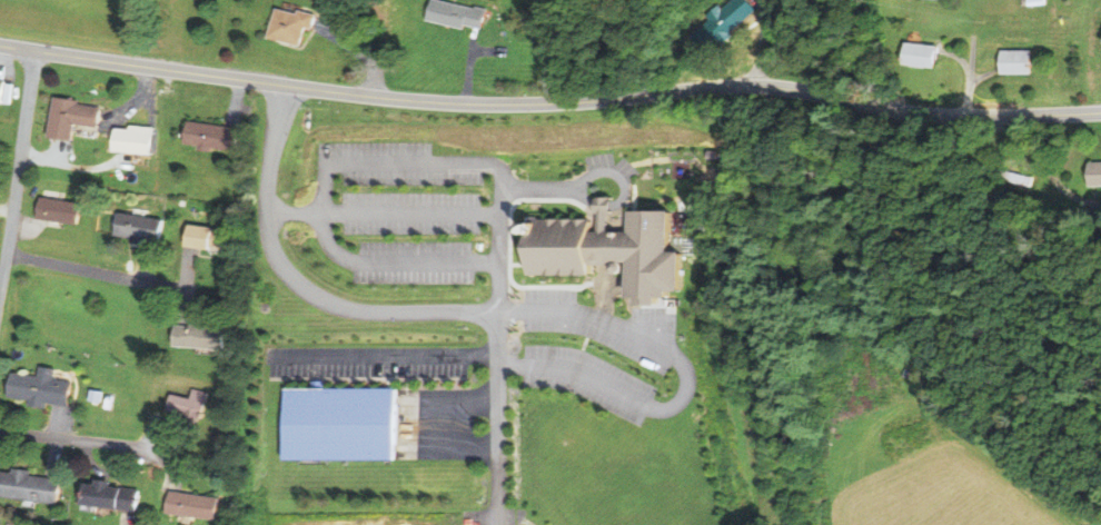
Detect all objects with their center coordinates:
building: (1034, 2)
building: (456, 13)
building: (724, 22)
building: (292, 26)
building: (1098, 38)
road: (764, 42)
road: (368, 47)
building: (919, 55)
building: (1014, 60)
road: (469, 70)
building: (2, 89)
road: (550, 103)
building: (73, 117)
building: (216, 136)
building: (136, 140)
road: (435, 165)
road: (19, 174)
building: (1091, 175)
building: (60, 209)
road: (409, 214)
park: (1, 226)
building: (141, 227)
building: (212, 237)
building: (612, 250)
road: (393, 262)
road: (98, 273)
road: (389, 314)
building: (202, 336)
road: (688, 379)
building: (41, 387)
building: (97, 395)
building: (191, 404)
building: (340, 424)
road: (73, 439)
building: (31, 486)
building: (115, 497)
building: (197, 505)
road: (493, 518)

